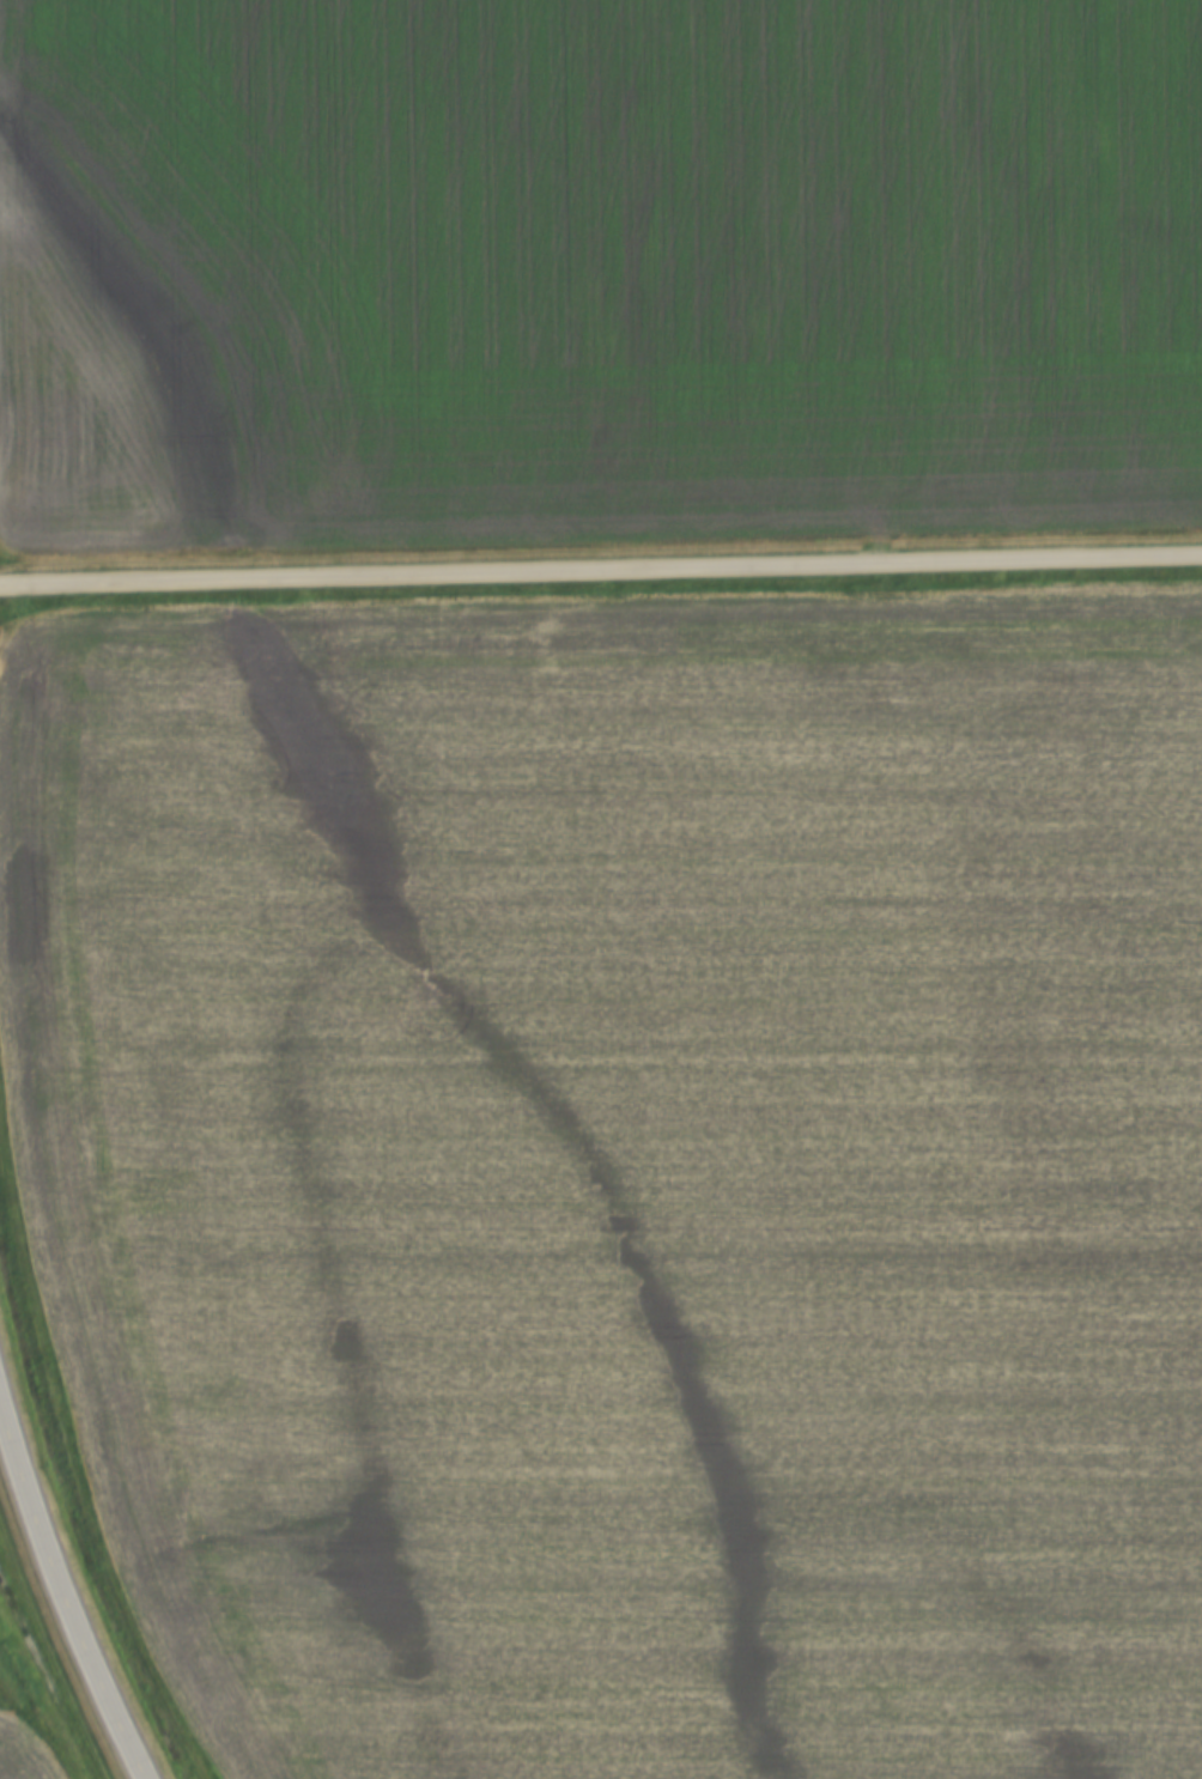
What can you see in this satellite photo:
crop: (594, 272)
road: (601, 570)
crop: (626, 1172)
road: (63, 1587)
crop: (20, 1751)

